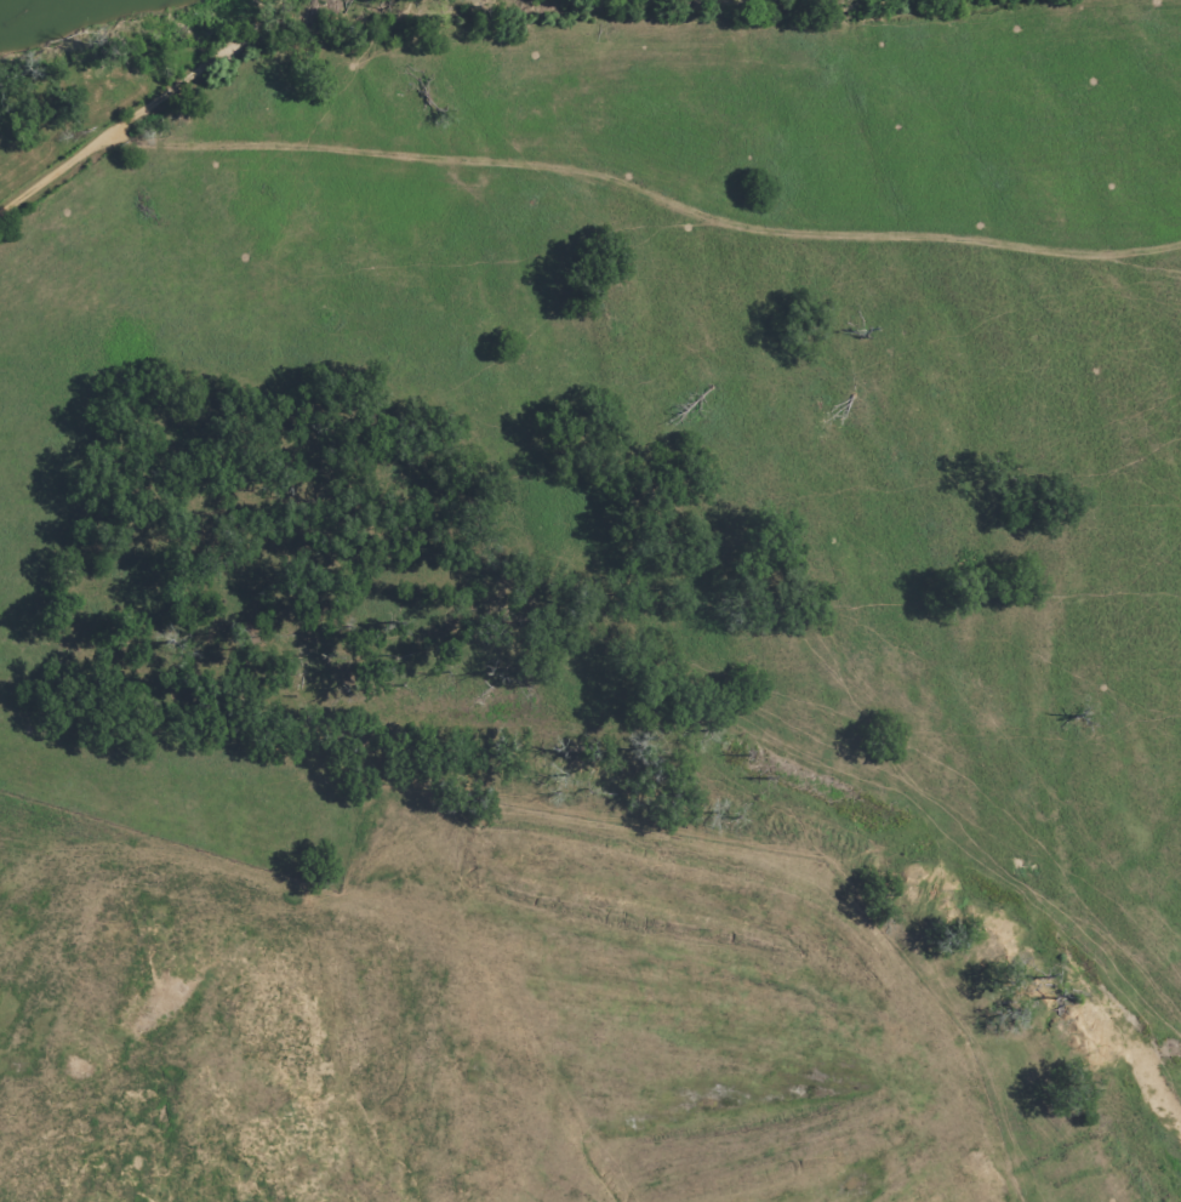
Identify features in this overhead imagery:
road: (635, 182)
road: (45, 190)

